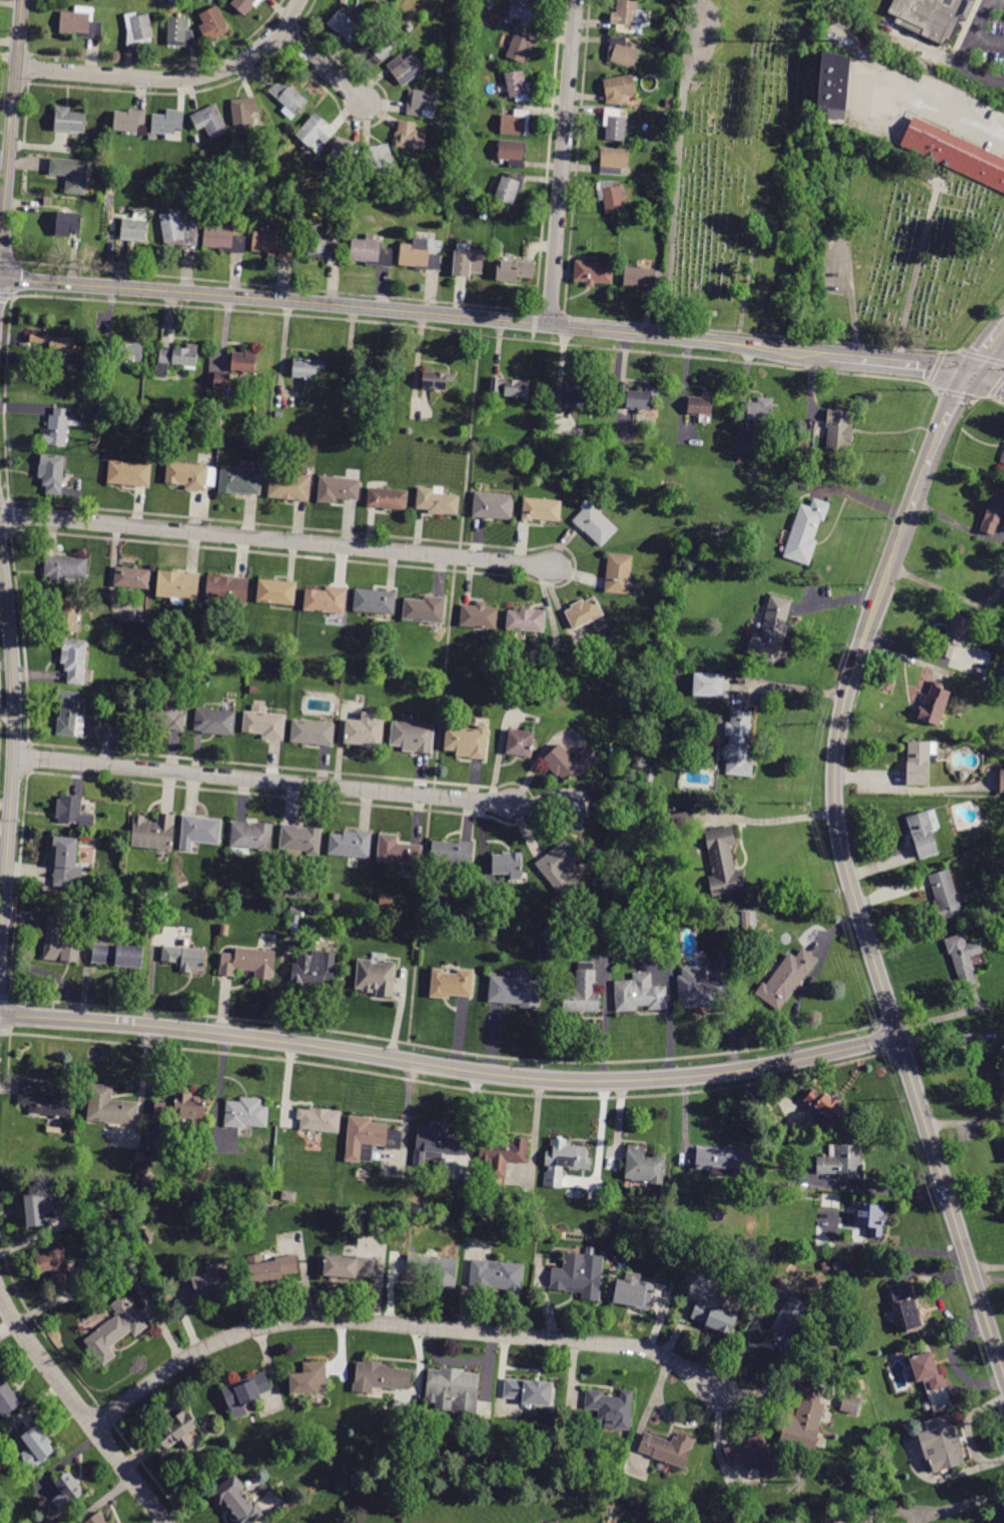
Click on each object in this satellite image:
building: (96, 0)
building: (245, 5)
building: (524, 11)
building: (928, 15)
building: (627, 17)
building: (81, 23)
building: (213, 23)
building: (344, 27)
building: (138, 29)
building: (680, 29)
building: (180, 33)
road: (988, 40)
building: (380, 44)
building: (522, 46)
parking lot: (984, 47)
building: (469, 52)
building: (622, 53)
road: (9, 54)
road: (965, 55)
building: (672, 56)
road: (323, 68)
building: (406, 68)
building: (440, 70)
road: (173, 79)
building: (834, 80)
building: (518, 86)
building: (618, 88)
building: (289, 99)
building: (421, 103)
building: (670, 103)
building: (244, 112)
road: (959, 115)
building: (69, 120)
building: (668, 120)
building: (210, 121)
building: (131, 122)
building: (168, 122)
building: (516, 123)
building: (614, 124)
building: (441, 125)
building: (290, 127)
building: (463, 127)
building: (314, 131)
building: (410, 136)
building: (923, 136)
building: (463, 138)
road: (11, 139)
building: (512, 152)
building: (341, 154)
building: (377, 160)
building: (613, 160)
building: (972, 160)
road: (563, 162)
building: (237, 169)
building: (71, 174)
building: (467, 174)
building: (939, 176)
road: (677, 181)
building: (111, 182)
building: (509, 187)
building: (353, 195)
building: (611, 196)
building: (418, 199)
building: (446, 206)
building: (396, 209)
park: (815, 210)
building: (484, 215)
building: (68, 223)
building: (134, 229)
building: (289, 229)
building: (179, 230)
building: (223, 239)
building: (320, 243)
building: (272, 244)
building: (370, 253)
building: (422, 254)
road: (8, 260)
building: (467, 262)
parking lot: (836, 267)
building: (513, 270)
building: (593, 273)
road: (919, 273)
road: (750, 274)
building: (639, 277)
traffic signals: (0, 279)
road: (275, 284)
road: (6, 294)
road: (851, 300)
road: (549, 309)
road: (415, 312)
road: (533, 319)
road: (477, 331)
road: (764, 332)
road: (531, 334)
building: (55, 343)
building: (124, 350)
road: (988, 350)
road: (940, 352)
road: (981, 355)
building: (177, 358)
road: (901, 360)
building: (244, 361)
road: (933, 367)
building: (307, 368)
traffic signals: (973, 372)
building: (372, 374)
road: (988, 378)
building: (222, 380)
building: (436, 380)
road: (997, 385)
building: (511, 386)
road: (955, 391)
building: (578, 393)
road: (987, 395)
road: (3, 398)
building: (641, 398)
building: (701, 404)
building: (760, 409)
building: (103, 413)
building: (217, 424)
building: (61, 426)
building: (356, 426)
building: (838, 429)
road: (932, 448)
building: (272, 449)
building: (1003, 459)
building: (1003, 468)
building: (52, 473)
building: (129, 473)
building: (187, 476)
building: (240, 481)
building: (289, 486)
building: (672, 488)
building: (338, 489)
building: (388, 499)
building: (437, 501)
building: (493, 505)
building: (542, 510)
building: (994, 512)
road: (9, 515)
building: (595, 524)
building: (805, 532)
road: (278, 540)
road: (574, 563)
building: (66, 567)
building: (619, 573)
building: (132, 577)
building: (178, 587)
building: (227, 590)
building: (277, 592)
building: (326, 600)
building: (375, 601)
building: (424, 609)
building: (584, 612)
building: (66, 615)
building: (479, 616)
building: (526, 620)
building: (772, 632)
building: (954, 634)
road: (22, 635)
building: (74, 660)
building: (707, 684)
road: (792, 685)
road: (443, 686)
building: (128, 703)
building: (934, 704)
building: (71, 714)
building: (165, 716)
building: (215, 722)
building: (265, 723)
building: (365, 731)
building: (312, 733)
building: (413, 737)
road: (15, 739)
building: (467, 741)
building: (519, 743)
building: (739, 744)
road: (27, 755)
building: (570, 762)
building: (917, 762)
building: (650, 777)
road: (264, 780)
building: (1002, 780)
road: (534, 802)
building: (73, 812)
building: (574, 812)
building: (683, 820)
road: (773, 820)
building: (153, 832)
building: (199, 832)
building: (922, 834)
building: (251, 836)
building: (300, 840)
building: (350, 844)
building: (398, 851)
building: (452, 853)
building: (65, 862)
building: (723, 862)
building: (508, 864)
building: (560, 868)
building: (121, 877)
road: (17, 882)
building: (944, 895)
building: (336, 897)
building: (683, 915)
building: (296, 919)
building: (225, 930)
building: (60, 943)
building: (117, 955)
road: (872, 955)
building: (185, 958)
building: (963, 958)
building: (249, 963)
building: (313, 969)
building: (377, 977)
building: (787, 978)
building: (452, 984)
building: (699, 988)
building: (516, 990)
building: (580, 992)
building: (639, 993)
road: (4, 997)
road: (1, 1030)
road: (882, 1036)
road: (444, 1046)
road: (898, 1048)
building: (1001, 1064)
road: (448, 1069)
road: (445, 1083)
building: (47, 1100)
building: (181, 1106)
building: (827, 1106)
building: (110, 1107)
building: (246, 1113)
building: (320, 1120)
building: (369, 1139)
building: (437, 1146)
building: (501, 1153)
building: (563, 1161)
building: (724, 1161)
building: (842, 1161)
building: (644, 1165)
building: (283, 1201)
building: (38, 1208)
building: (870, 1218)
building: (656, 1232)
road: (914, 1249)
building: (54, 1266)
building: (825, 1266)
building: (350, 1267)
building: (271, 1268)
building: (433, 1269)
building: (580, 1274)
building: (128, 1276)
building: (497, 1276)
building: (209, 1283)
building: (634, 1294)
building: (907, 1306)
building: (714, 1318)
road: (396, 1324)
road: (41, 1327)
building: (788, 1327)
building: (115, 1330)
building: (927, 1371)
building: (380, 1377)
building: (310, 1379)
building: (454, 1392)
building: (529, 1392)
building: (246, 1393)
building: (8, 1399)
building: (850, 1404)
building: (612, 1408)
building: (484, 1409)
road: (80, 1410)
road: (107, 1415)
building: (804, 1419)
building: (176, 1430)
building: (941, 1444)
building: (36, 1448)
building: (667, 1449)
building: (751, 1456)
road: (145, 1465)
building: (67, 1491)
building: (237, 1501)
road: (931, 1512)
building: (97, 1518)

